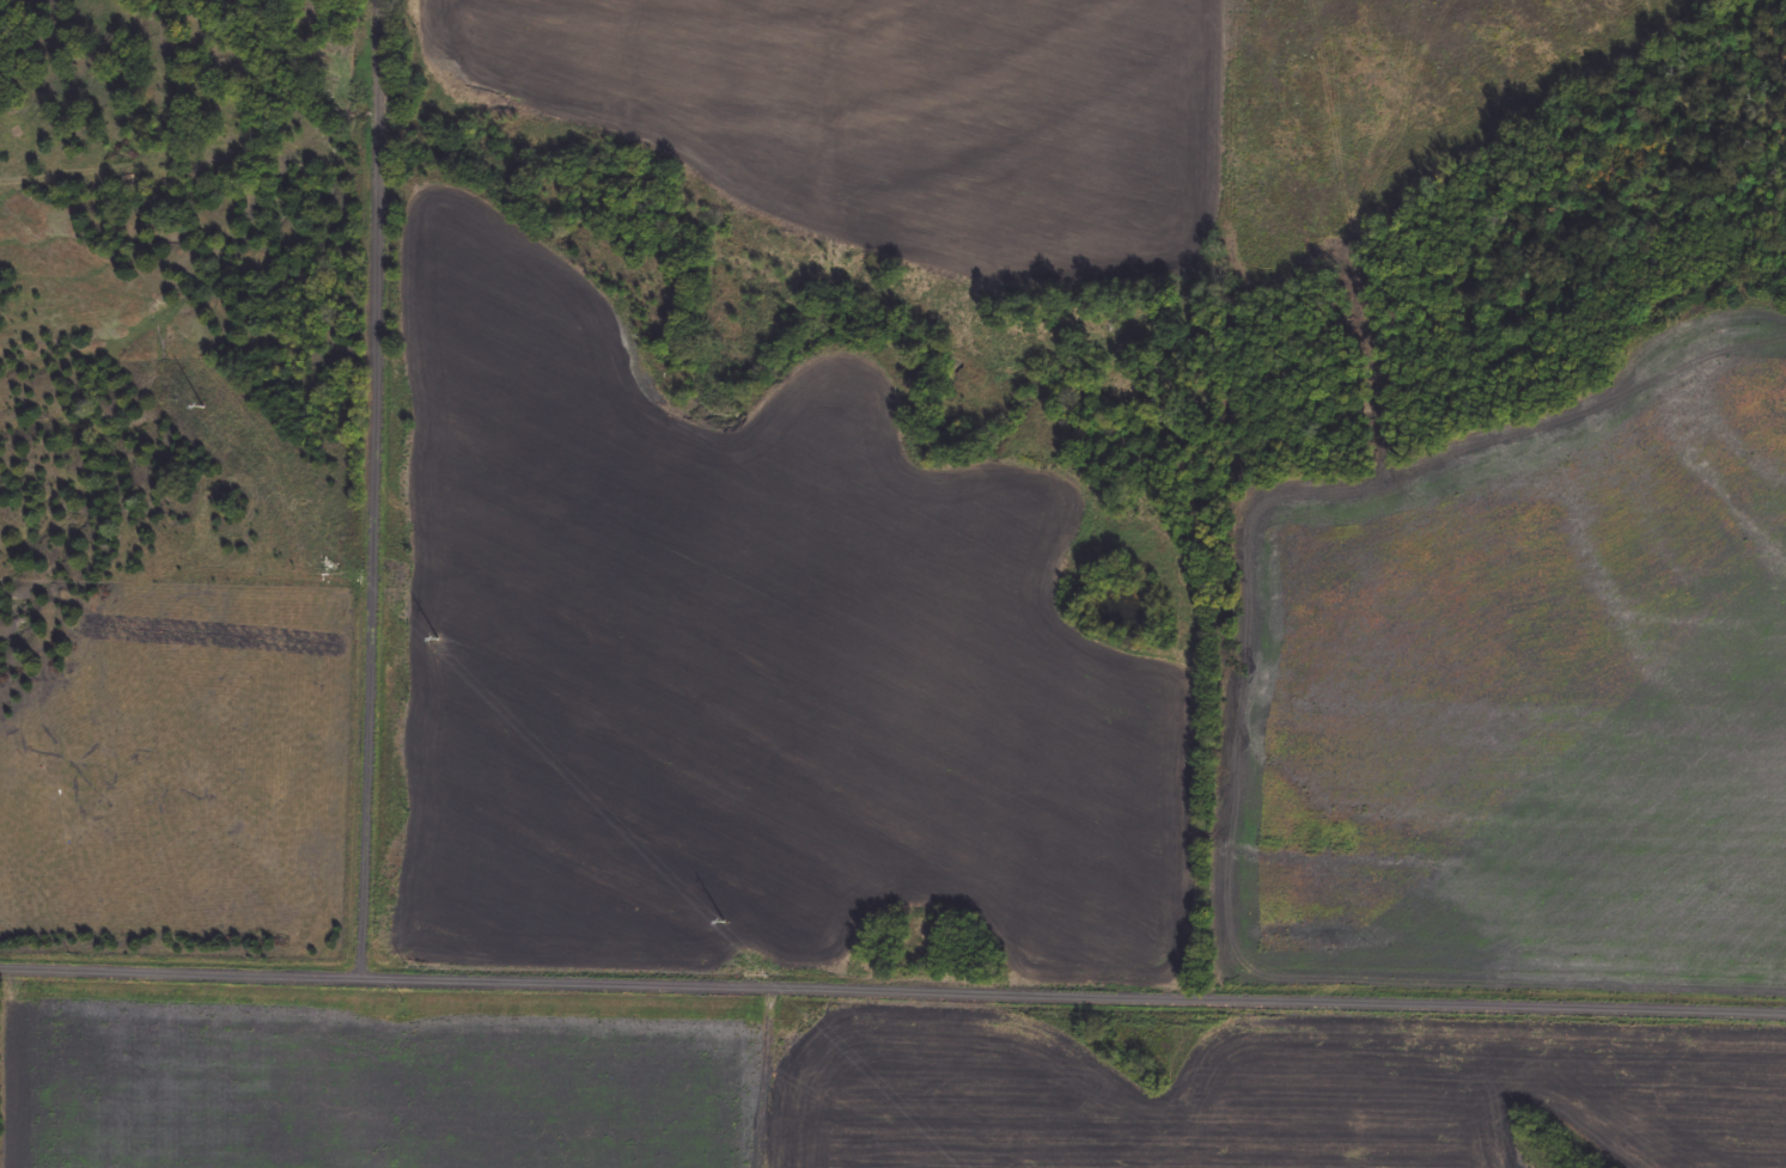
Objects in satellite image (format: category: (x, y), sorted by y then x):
power tower: (211, 406)
road: (377, 489)
power tower: (439, 641)
power tower: (731, 928)
road: (182, 973)
road: (1074, 990)
road: (679, 1076)

